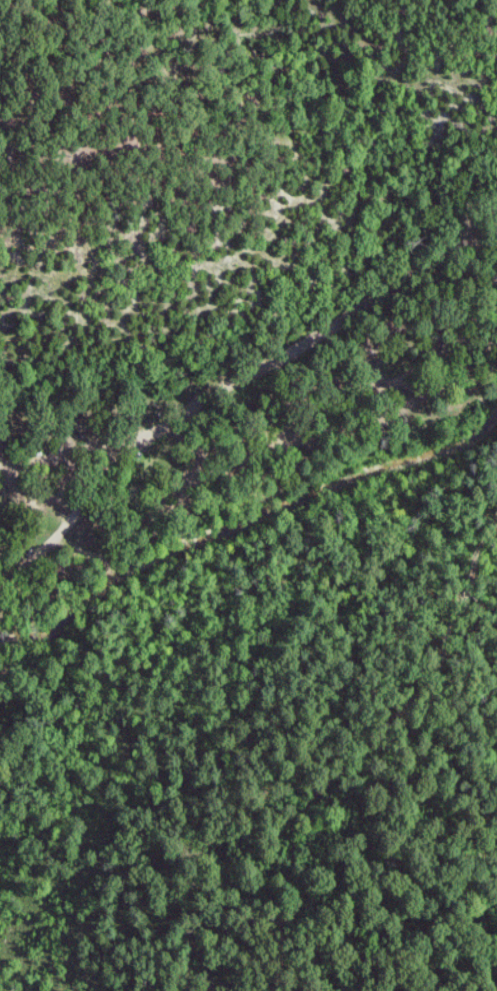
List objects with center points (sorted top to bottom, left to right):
road: (255, 372)
road: (307, 420)
road: (65, 523)

